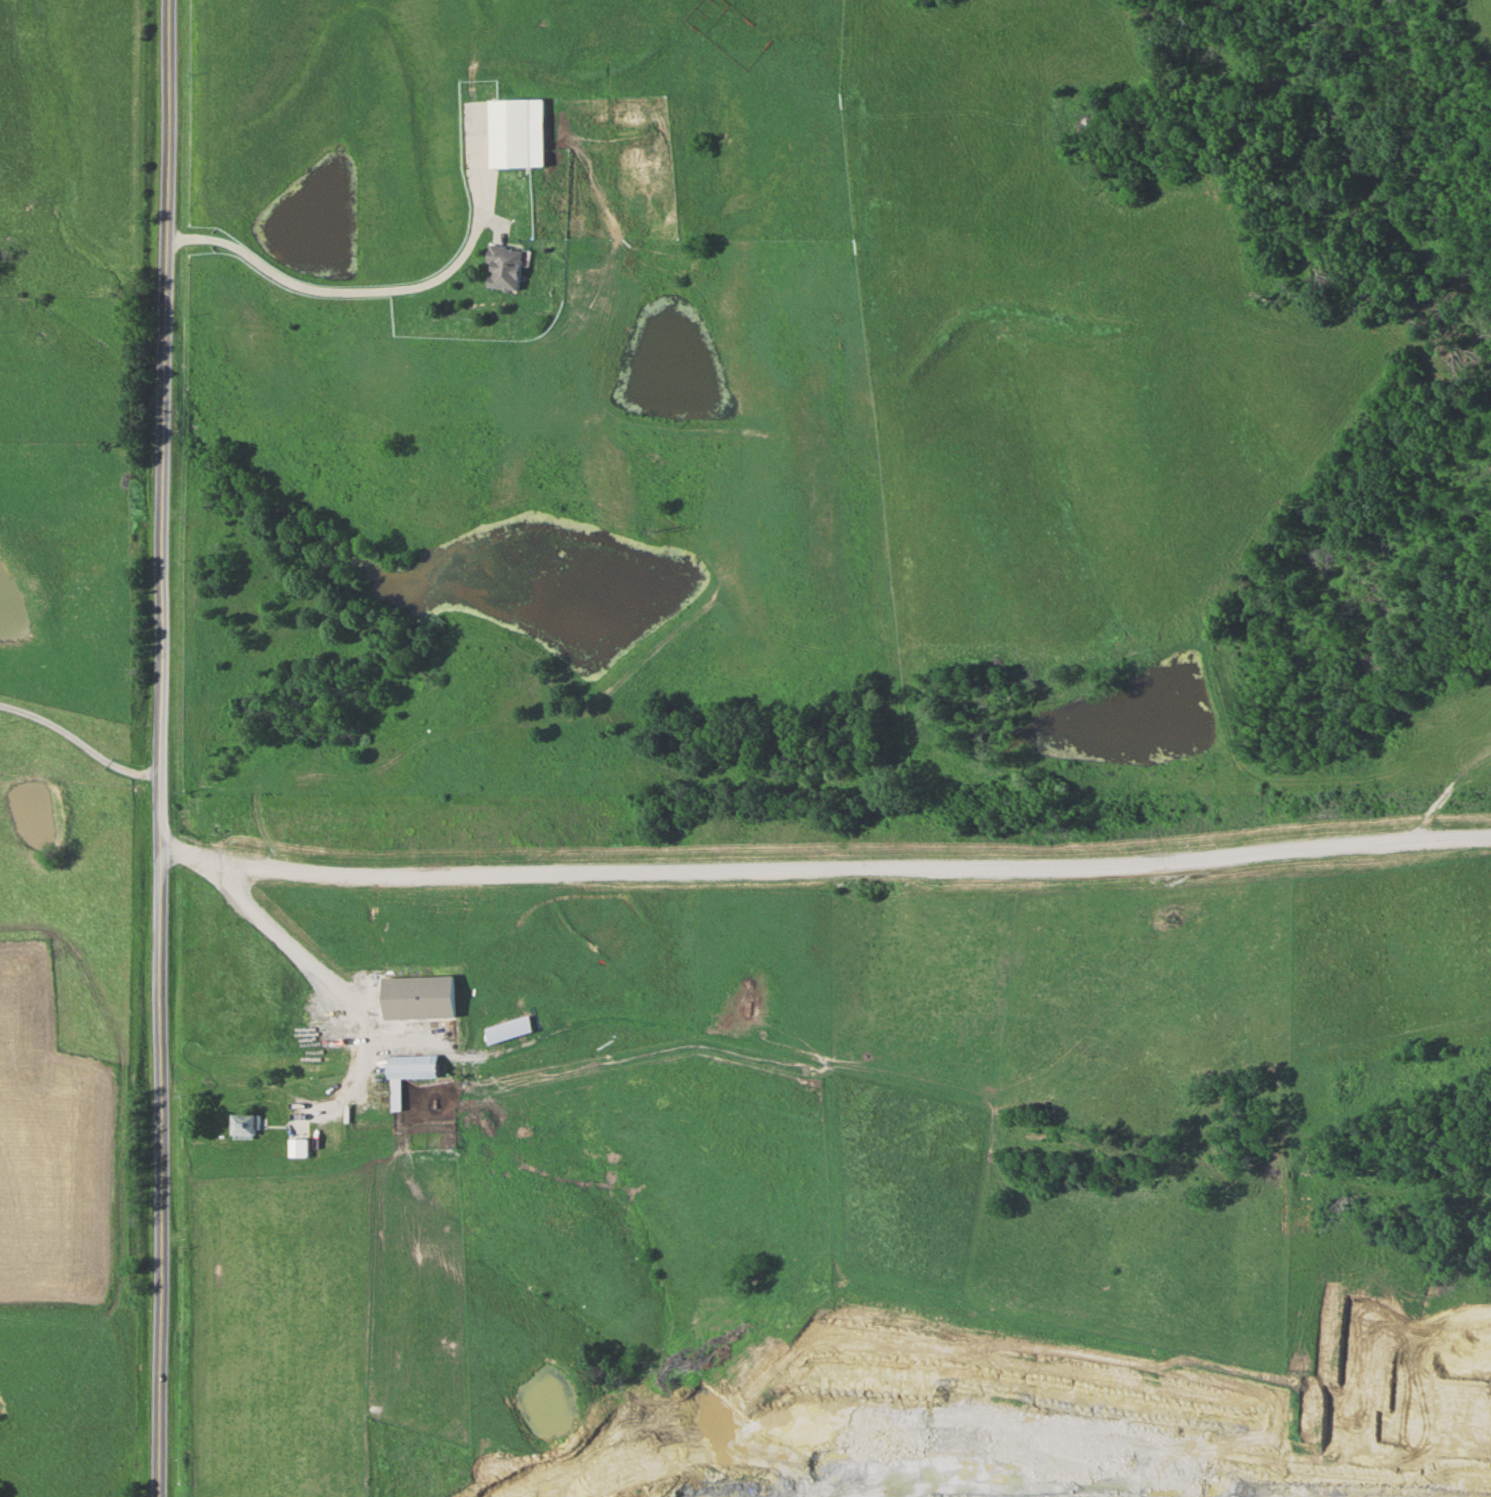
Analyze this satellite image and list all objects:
crop: (1477, 39)
building: (520, 131)
building: (508, 267)
road: (387, 289)
crop: (1455, 734)
road: (80, 741)
road: (159, 748)
road: (823, 865)
building: (421, 996)
road: (356, 1021)
building: (511, 1028)
building: (410, 1072)
building: (244, 1125)
building: (300, 1146)

